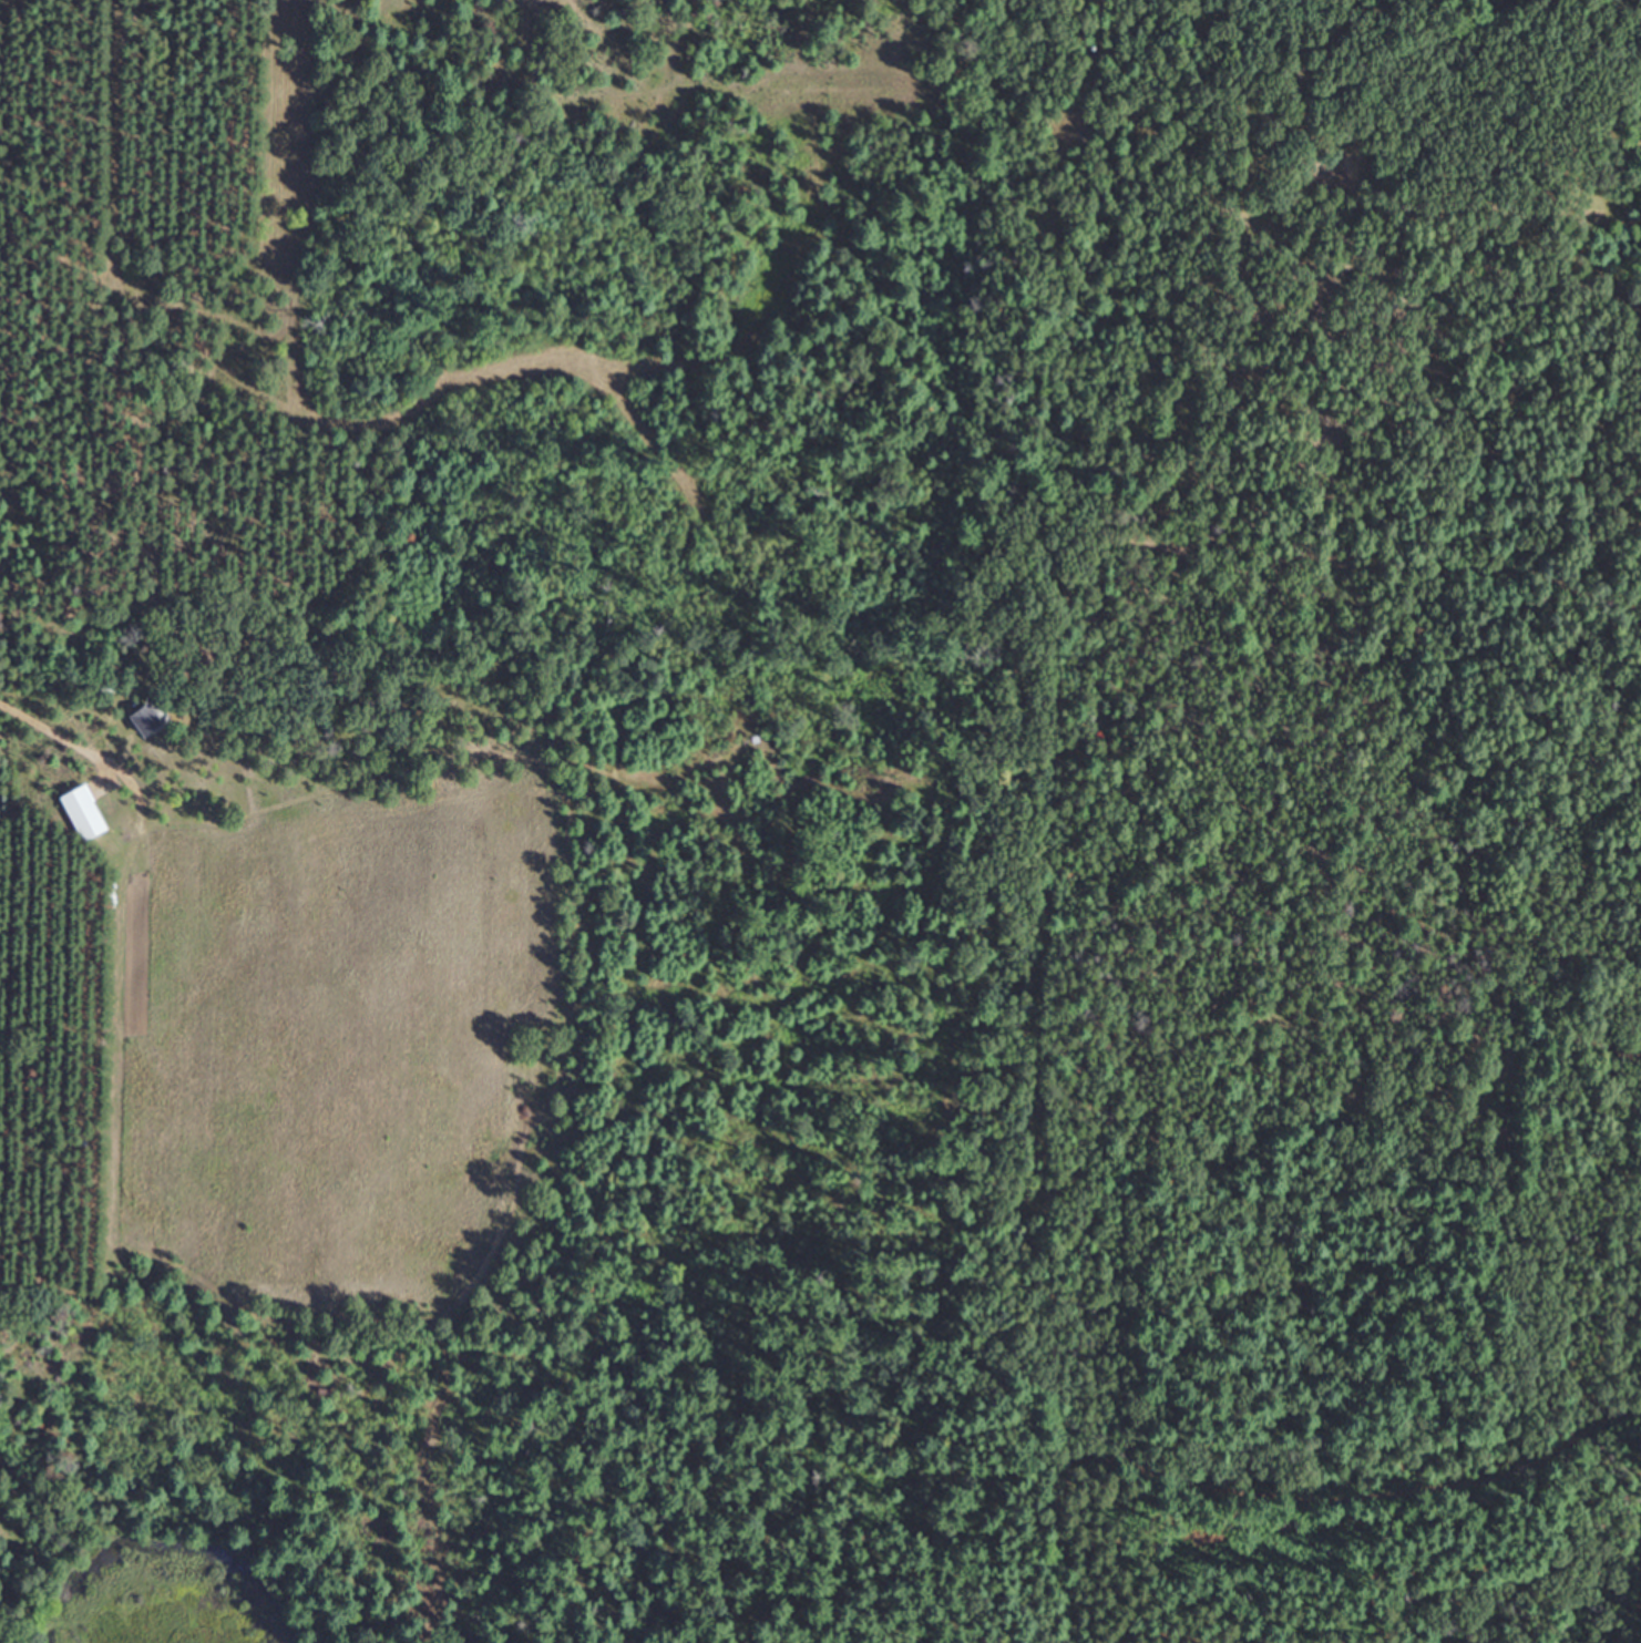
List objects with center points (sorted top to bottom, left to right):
building: (146, 719)
building: (83, 814)

